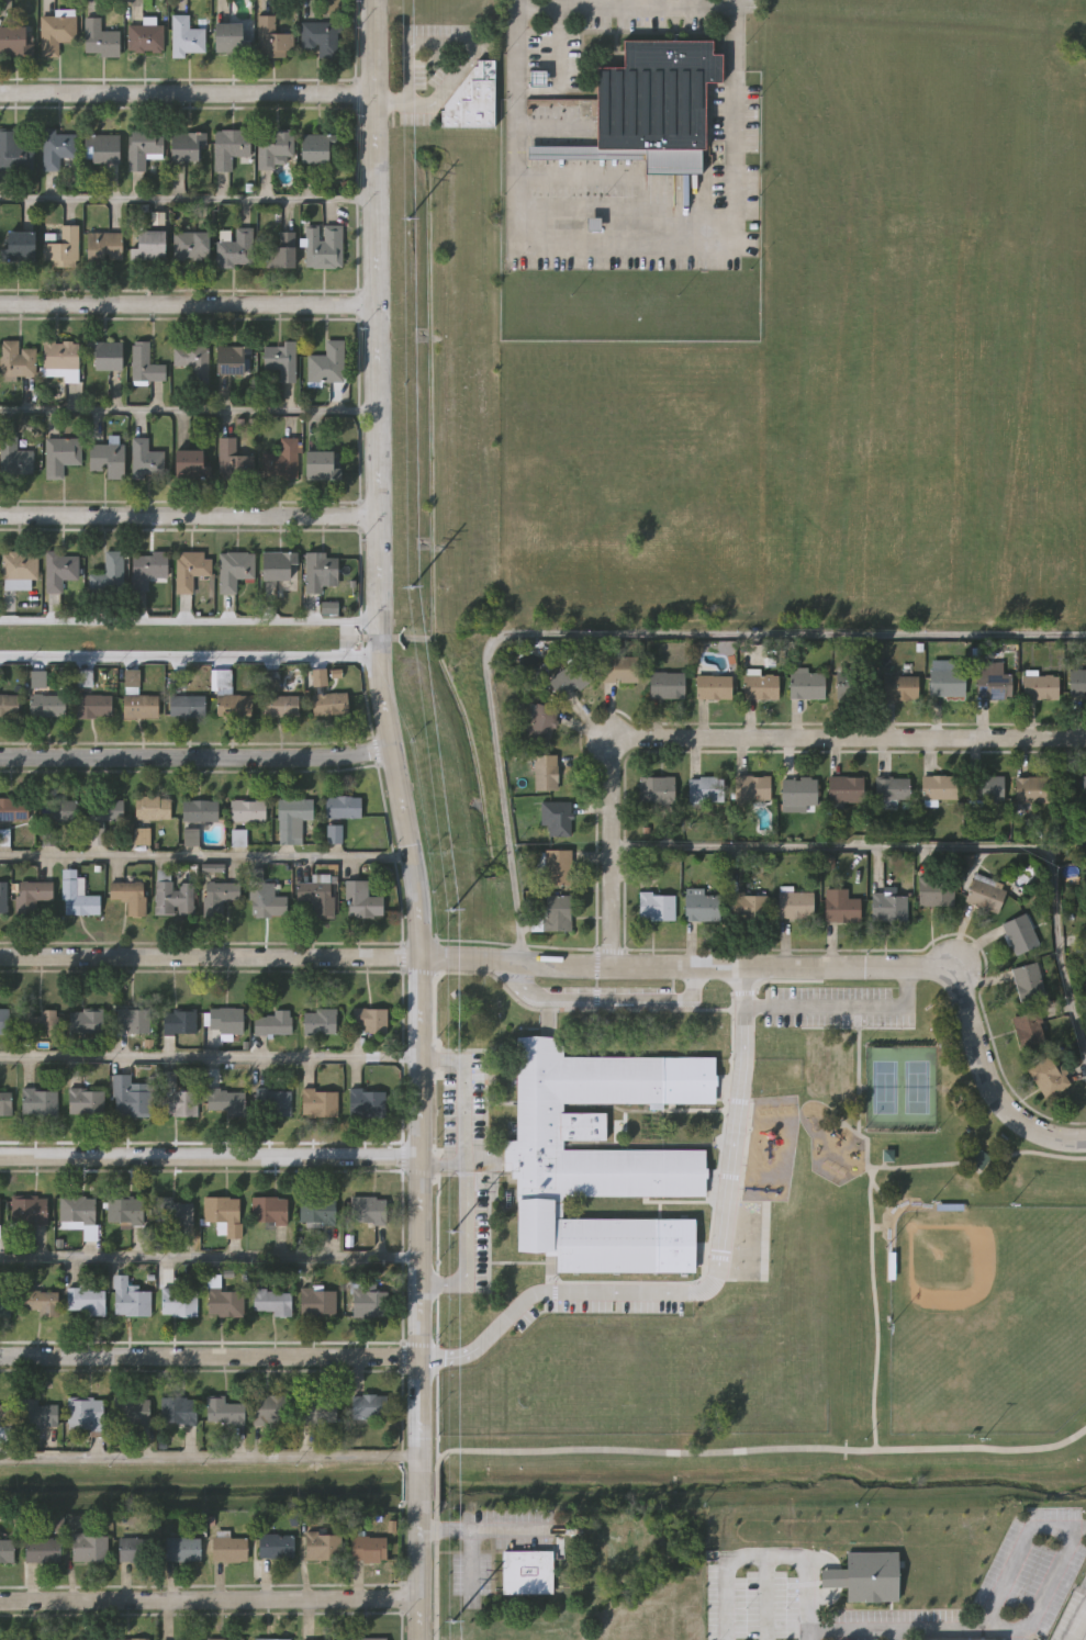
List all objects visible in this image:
road: (623, 8)
building: (55, 33)
building: (320, 36)
building: (187, 37)
building: (232, 37)
building: (145, 38)
building: (272, 38)
building: (99, 40)
building: (13, 41)
road: (410, 47)
road: (469, 47)
road: (408, 80)
road: (187, 92)
building: (472, 98)
road: (436, 99)
road: (401, 104)
building: (651, 105)
building: (189, 146)
building: (229, 147)
building: (104, 148)
building: (143, 148)
building: (272, 148)
building: (57, 149)
building: (316, 149)
building: (14, 153)
road: (188, 201)
road: (624, 239)
building: (191, 245)
building: (22, 246)
building: (150, 246)
building: (104, 247)
building: (323, 247)
building: (61, 248)
building: (236, 249)
building: (282, 251)
road: (188, 303)
building: (105, 356)
building: (190, 358)
building: (60, 359)
building: (280, 359)
building: (16, 360)
building: (233, 360)
building: (144, 363)
building: (327, 363)
road: (189, 411)
building: (60, 454)
building: (14, 457)
building: (109, 458)
building: (146, 460)
building: (234, 461)
building: (282, 461)
building: (190, 463)
building: (321, 463)
road: (189, 514)
building: (279, 566)
building: (19, 569)
building: (148, 569)
building: (190, 570)
building: (234, 570)
building: (59, 571)
building: (320, 571)
building: (109, 575)
road: (188, 621)
road: (627, 633)
road: (189, 659)
building: (620, 669)
building: (318, 678)
building: (570, 678)
building: (948, 682)
building: (1082, 683)
building: (808, 684)
building: (994, 684)
building: (668, 685)
building: (855, 685)
building: (714, 686)
building: (761, 686)
building: (904, 686)
building: (1040, 686)
building: (47, 705)
building: (331, 705)
building: (9, 706)
building: (93, 706)
building: (139, 706)
building: (187, 706)
building: (235, 706)
building: (281, 706)
building: (540, 722)
road: (390, 733)
road: (740, 737)
road: (197, 755)
building: (546, 772)
building: (939, 786)
building: (987, 786)
building: (752, 787)
building: (892, 787)
building: (705, 788)
building: (846, 788)
building: (1033, 788)
building: (657, 789)
building: (1085, 789)
building: (798, 793)
building: (342, 806)
building: (153, 807)
building: (14, 808)
building: (104, 808)
building: (58, 809)
building: (200, 810)
building: (247, 810)
building: (557, 817)
building: (293, 818)
road: (938, 847)
road: (204, 856)
building: (557, 866)
building: (74, 890)
building: (936, 890)
building: (986, 894)
building: (35, 895)
building: (3, 896)
building: (173, 897)
building: (262, 897)
building: (220, 898)
building: (317, 898)
building: (134, 899)
building: (361, 900)
building: (796, 903)
building: (657, 905)
building: (703, 905)
building: (749, 905)
building: (841, 905)
building: (888, 906)
building: (557, 911)
building: (1021, 932)
road: (592, 964)
road: (512, 981)
building: (1028, 981)
road: (625, 1002)
road: (841, 1009)
building: (4, 1020)
building: (133, 1020)
building: (226, 1020)
building: (370, 1020)
building: (40, 1021)
building: (87, 1021)
building: (320, 1021)
building: (179, 1022)
building: (273, 1022)
building: (1030, 1029)
road: (210, 1059)
building: (1049, 1076)
road: (460, 1094)
building: (130, 1098)
building: (4, 1100)
building: (40, 1101)
building: (86, 1101)
building: (272, 1101)
building: (180, 1102)
building: (226, 1102)
building: (320, 1102)
building: (369, 1103)
road: (210, 1155)
road: (1066, 1155)
road: (439, 1157)
building: (589, 1158)
building: (979, 1159)
road: (881, 1166)
building: (77, 1209)
building: (269, 1209)
building: (368, 1209)
building: (0, 1210)
building: (27, 1210)
building: (125, 1210)
building: (173, 1210)
building: (317, 1210)
building: (223, 1212)
road: (460, 1242)
road: (210, 1254)
park: (929, 1254)
road: (706, 1279)
building: (131, 1298)
building: (4, 1301)
building: (37, 1301)
building: (86, 1301)
building: (179, 1301)
building: (272, 1301)
building: (318, 1301)
building: (226, 1302)
building: (376, 1303)
road: (875, 1307)
park: (987, 1319)
road: (210, 1355)
building: (368, 1406)
building: (271, 1408)
building: (321, 1408)
building: (179, 1409)
building: (224, 1411)
building: (38, 1412)
building: (133, 1413)
building: (5, 1414)
building: (86, 1414)
road: (760, 1449)
road: (210, 1457)
road: (434, 1482)
road: (419, 1484)
road: (1078, 1527)
road: (490, 1529)
building: (276, 1544)
building: (322, 1544)
building: (88, 1546)
building: (368, 1547)
building: (42, 1548)
building: (134, 1548)
building: (182, 1548)
building: (228, 1548)
building: (7, 1549)
road: (759, 1553)
road: (470, 1560)
road: (419, 1571)
road: (434, 1571)
building: (527, 1572)
building: (864, 1576)
road: (210, 1597)
road: (1076, 1621)
road: (893, 1629)
road: (896, 1635)
building: (131, 1638)
building: (270, 1638)
building: (367, 1638)
building: (4, 1639)
building: (37, 1639)
building: (177, 1639)
building: (224, 1639)
building: (317, 1639)
building: (1085, 1639)

